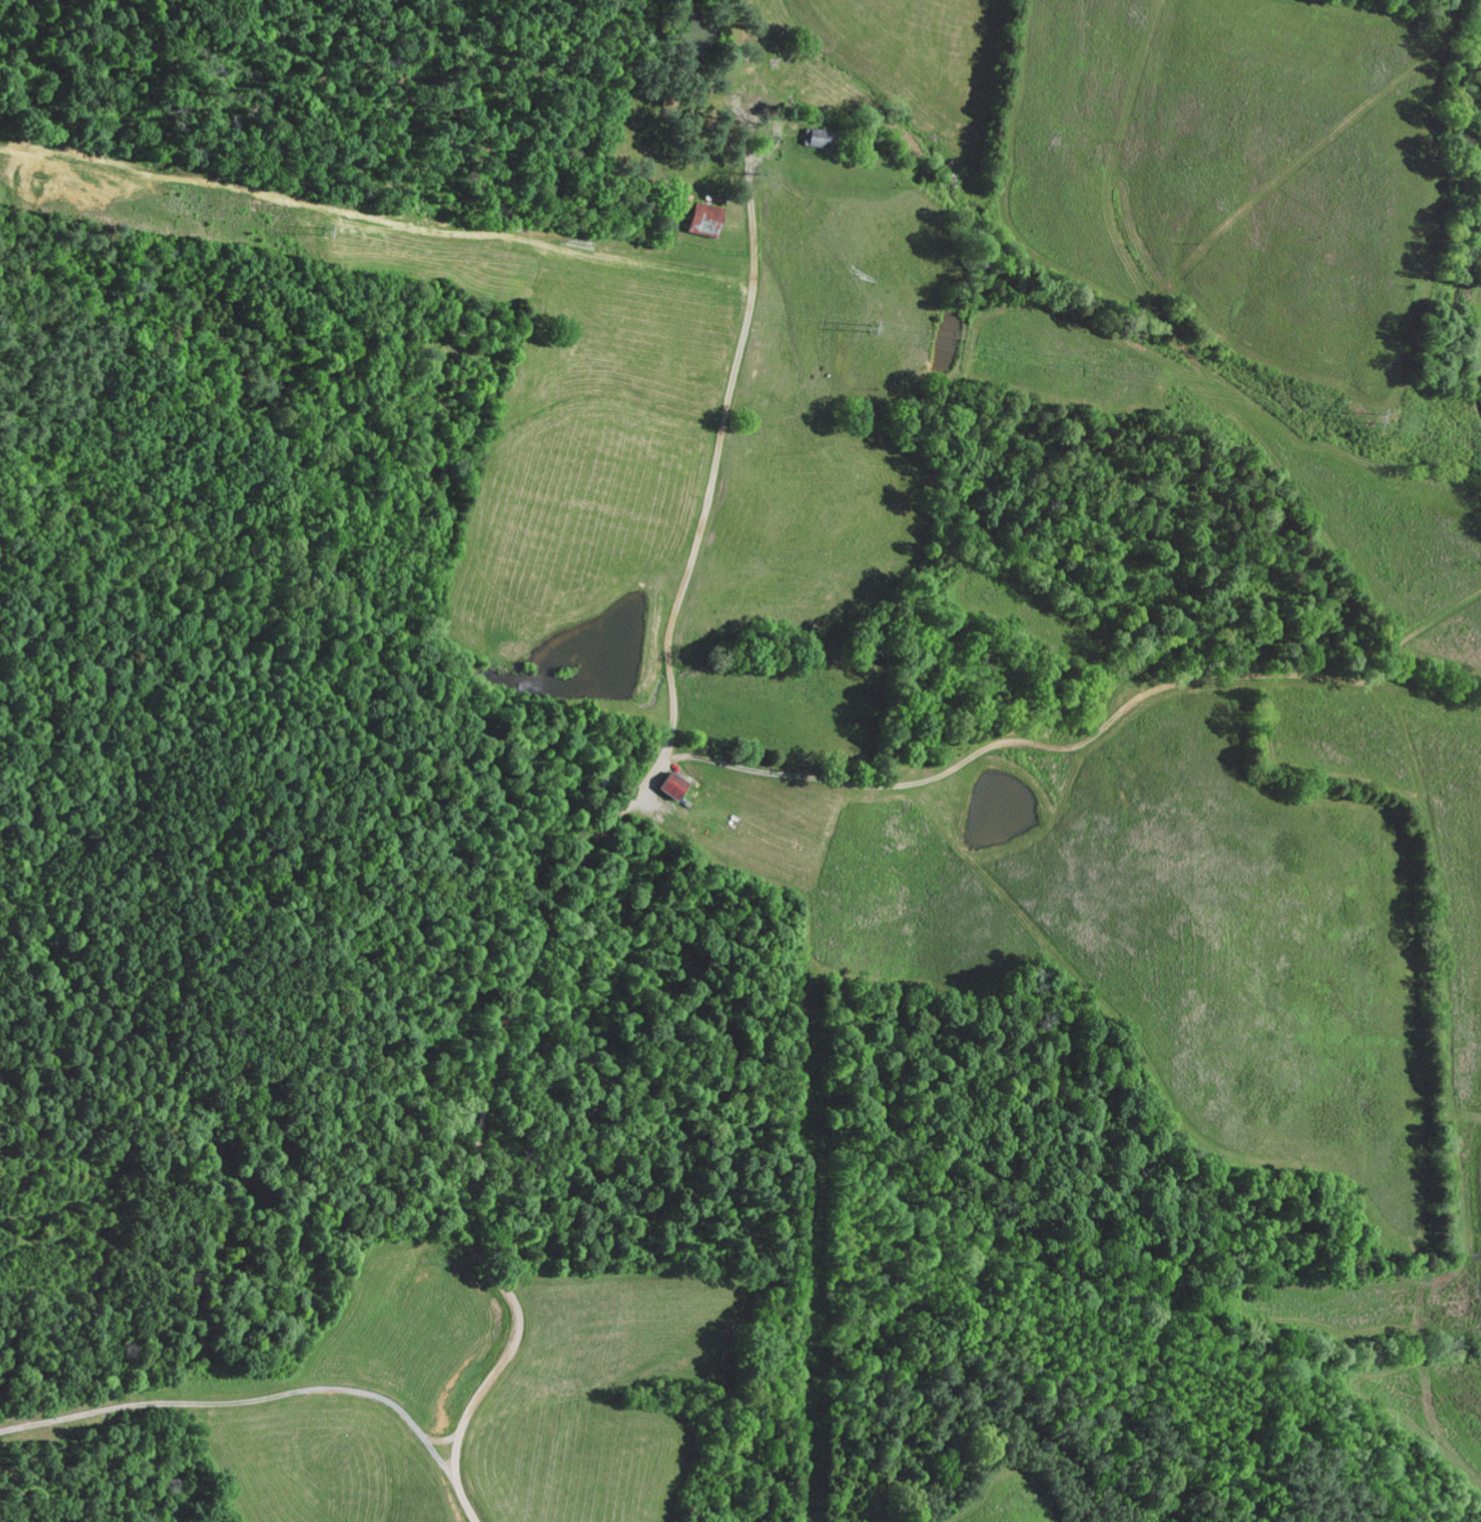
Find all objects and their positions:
building: (818, 138)
building: (707, 219)
building: (675, 785)
road: (486, 1371)

